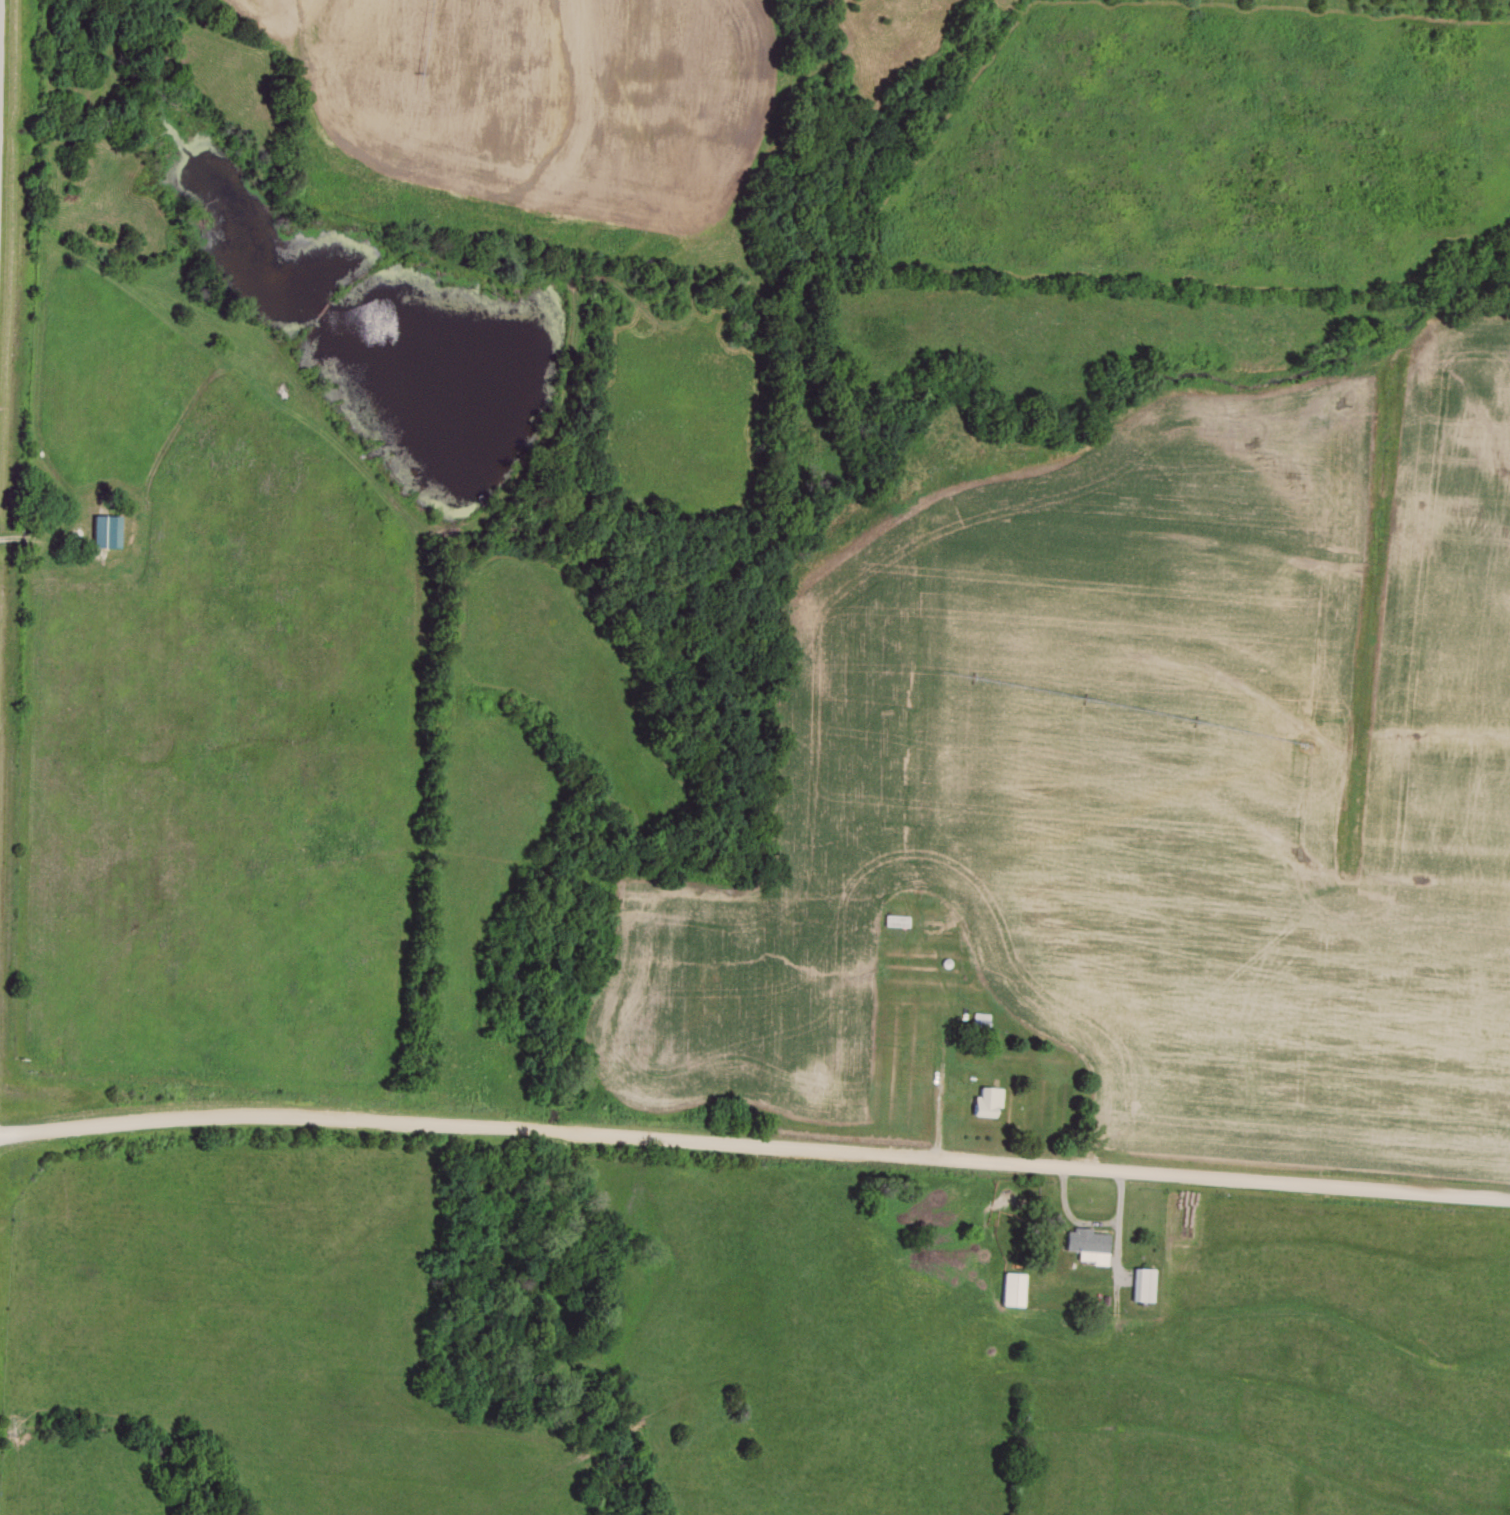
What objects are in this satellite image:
building: (106, 529)
road: (754, 1146)
road: (1118, 1232)
building: (1086, 1242)
building: (1141, 1282)
building: (1011, 1286)

